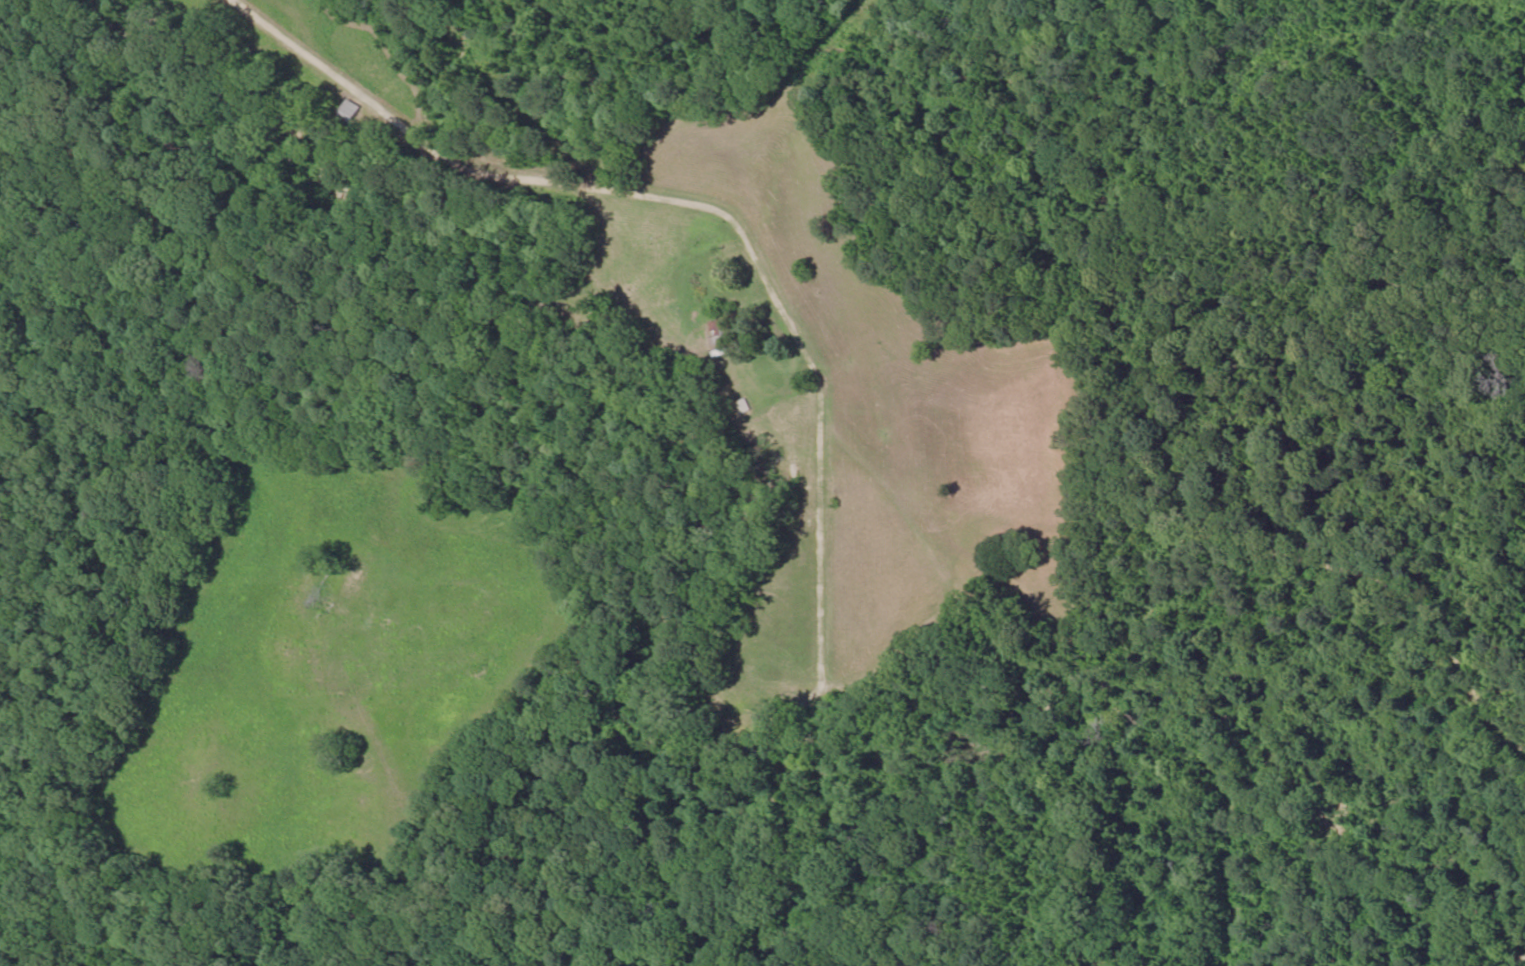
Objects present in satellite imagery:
building: (355, 111)
road: (796, 381)

